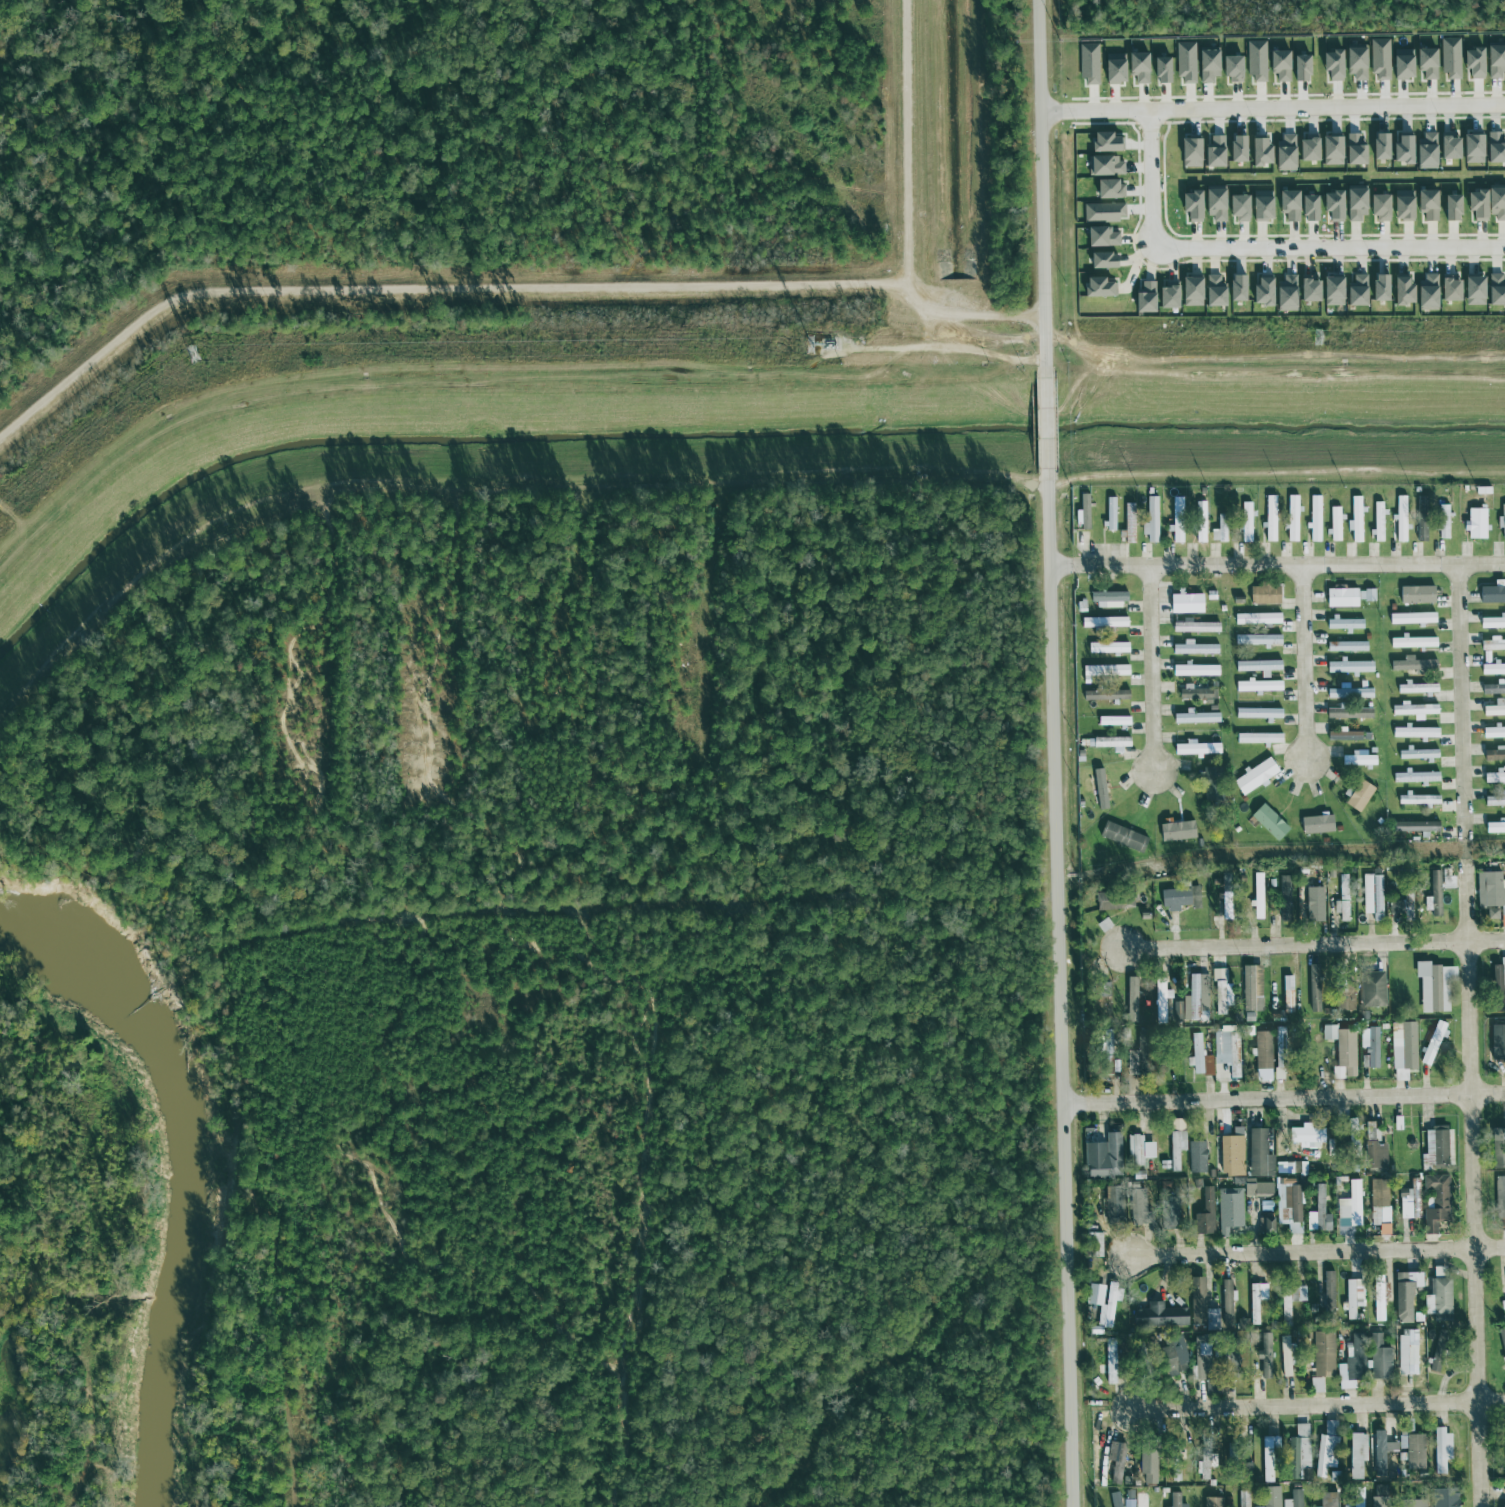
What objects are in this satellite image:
building: (1449, 57)
building: (1379, 59)
building: (1495, 60)
building: (1256, 61)
building: (1185, 63)
building: (1355, 63)
building: (1425, 63)
building: (1472, 63)
building: (1088, 64)
building: (1400, 64)
building: (1278, 65)
building: (1331, 65)
building: (1137, 67)
building: (1207, 67)
building: (1230, 68)
building: (1113, 69)
building: (1299, 69)
building: (1160, 71)
road: (1272, 104)
building: (1105, 143)
building: (1471, 146)
building: (1378, 147)
building: (1447, 147)
building: (1494, 148)
road: (910, 149)
building: (1235, 149)
building: (1306, 149)
building: (1353, 149)
building: (1330, 150)
building: (1401, 150)
building: (1258, 152)
building: (1425, 152)
building: (1188, 153)
building: (1213, 153)
building: (1283, 154)
building: (1105, 166)
road: (1152, 172)
road: (1040, 183)
building: (1108, 190)
building: (1495, 203)
building: (1426, 204)
building: (1213, 205)
building: (1288, 205)
building: (1401, 205)
building: (1475, 205)
building: (1189, 206)
building: (1260, 206)
building: (1332, 206)
building: (1354, 206)
building: (1377, 207)
building: (1236, 208)
building: (1450, 208)
building: (1307, 209)
building: (1102, 212)
building: (1100, 237)
road: (1330, 245)
building: (1101, 261)
building: (1097, 288)
building: (1378, 288)
building: (1235, 289)
building: (1448, 289)
building: (1307, 290)
building: (1495, 290)
road: (421, 291)
building: (1212, 291)
building: (1472, 291)
building: (1189, 292)
building: (1331, 292)
building: (1355, 292)
building: (1401, 292)
building: (1260, 293)
building: (1426, 293)
building: (1284, 294)
building: (1166, 298)
building: (1144, 299)
power tower: (1317, 337)
power tower: (812, 344)
power tower: (193, 353)
road: (1046, 423)
river: (715, 432)
road: (609, 475)
building: (1177, 504)
building: (1080, 511)
building: (1109, 512)
road: (724, 516)
building: (1269, 518)
building: (1292, 518)
building: (1314, 518)
building: (1400, 518)
building: (1421, 518)
building: (1150, 520)
building: (1356, 520)
building: (1501, 520)
building: (1199, 521)
building: (1378, 521)
building: (1443, 521)
building: (1128, 522)
building: (1245, 522)
building: (1475, 523)
building: (1335, 524)
building: (1175, 529)
building: (1219, 529)
building: (1079, 537)
road: (466, 548)
road: (1276, 566)
building: (1492, 593)
building: (1263, 594)
building: (1415, 594)
building: (1366, 595)
building: (1340, 597)
building: (1107, 599)
building: (1185, 603)
building: (1079, 605)
building: (1256, 618)
building: (1410, 618)
building: (1103, 622)
building: (1492, 622)
building: (1343, 624)
building: (1194, 626)
building: (1257, 640)
building: (1411, 642)
building: (1492, 644)
building: (1345, 646)
building: (1106, 647)
building: (1194, 648)
road: (1306, 664)
building: (1412, 664)
building: (1258, 666)
building: (1348, 666)
road: (1151, 669)
building: (1492, 669)
building: (1104, 670)
building: (1194, 670)
building: (1258, 686)
building: (1416, 688)
building: (1492, 688)
building: (1192, 692)
building: (1104, 695)
road: (1460, 698)
road: (589, 707)
building: (1494, 708)
building: (1413, 710)
building: (1347, 712)
road: (718, 713)
building: (1257, 713)
building: (1195, 717)
building: (1112, 721)
road: (602, 731)
building: (1414, 732)
building: (1493, 732)
building: (1341, 734)
building: (1258, 738)
building: (1110, 743)
building: (1195, 748)
building: (1417, 753)
building: (1494, 754)
building: (1358, 760)
building: (1254, 776)
building: (1414, 777)
building: (1493, 777)
building: (1098, 789)
road: (431, 794)
building: (1358, 795)
building: (1416, 799)
building: (1494, 801)
road: (316, 802)
building: (1268, 822)
building: (1316, 824)
building: (1414, 826)
building: (1494, 827)
building: (1175, 831)
building: (1121, 836)
building: (1489, 890)
building: (1434, 893)
building: (1371, 895)
building: (1258, 896)
building: (1178, 898)
building: (1284, 898)
building: (1342, 899)
building: (1114, 900)
building: (1313, 904)
building: (1398, 906)
building: (1102, 925)
road: (1313, 945)
building: (1274, 984)
building: (1432, 986)
building: (1251, 988)
building: (1313, 988)
building: (1496, 988)
building: (1371, 989)
building: (1100, 990)
building: (1220, 991)
road: (1060, 993)
building: (1287, 994)
building: (1344, 994)
building: (1131, 1000)
building: (1160, 1000)
building: (1192, 1000)
building: (1280, 1040)
building: (1432, 1043)
building: (1497, 1043)
building: (1403, 1045)
building: (1223, 1047)
building: (1370, 1047)
building: (1262, 1050)
building: (1341, 1051)
building: (1106, 1052)
building: (1198, 1057)
building: (1130, 1062)
road: (1283, 1097)
building: (1174, 1124)
building: (1306, 1135)
building: (1373, 1148)
building: (1435, 1148)
building: (1497, 1148)
building: (1175, 1149)
building: (1137, 1150)
building: (1230, 1153)
building: (1258, 1154)
building: (1103, 1155)
building: (1195, 1157)
river: (182, 1165)
road: (1473, 1187)
building: (1256, 1188)
building: (1499, 1197)
building: (1409, 1201)
building: (1436, 1202)
building: (1136, 1204)
building: (1111, 1205)
building: (1379, 1205)
building: (1350, 1206)
building: (1228, 1210)
building: (1318, 1212)
building: (1167, 1213)
building: (1204, 1214)
building: (1264, 1225)
road: (93, 1234)
building: (1094, 1245)
road: (1317, 1251)
building: (1327, 1294)
building: (1404, 1295)
building: (1353, 1297)
building: (1378, 1298)
building: (1437, 1298)
building: (1255, 1301)
building: (1290, 1301)
building: (1102, 1302)
building: (1226, 1305)
building: (1502, 1305)
building: (1201, 1306)
building: (1158, 1316)
building: (1242, 1323)
building: (1503, 1347)
building: (1407, 1350)
building: (1379, 1353)
building: (1264, 1355)
building: (1285, 1356)
building: (1173, 1357)
building: (1320, 1358)
building: (1203, 1363)
road: (1320, 1405)
building: (1412, 1445)
building: (1326, 1448)
building: (1441, 1449)
building: (1504, 1449)
building: (1297, 1452)
building: (1381, 1452)
building: (1357, 1454)
building: (1269, 1459)
building: (1115, 1461)
building: (1174, 1463)
building: (1146, 1466)
building: (1270, 1496)
building: (1357, 1497)
building: (1113, 1499)
building: (1243, 1499)
building: (1293, 1499)
building: (1327, 1499)
building: (1447, 1499)
building: (1175, 1500)
building: (1211, 1502)
building: (1383, 1502)
building: (1413, 1503)
building: (1502, 1504)

